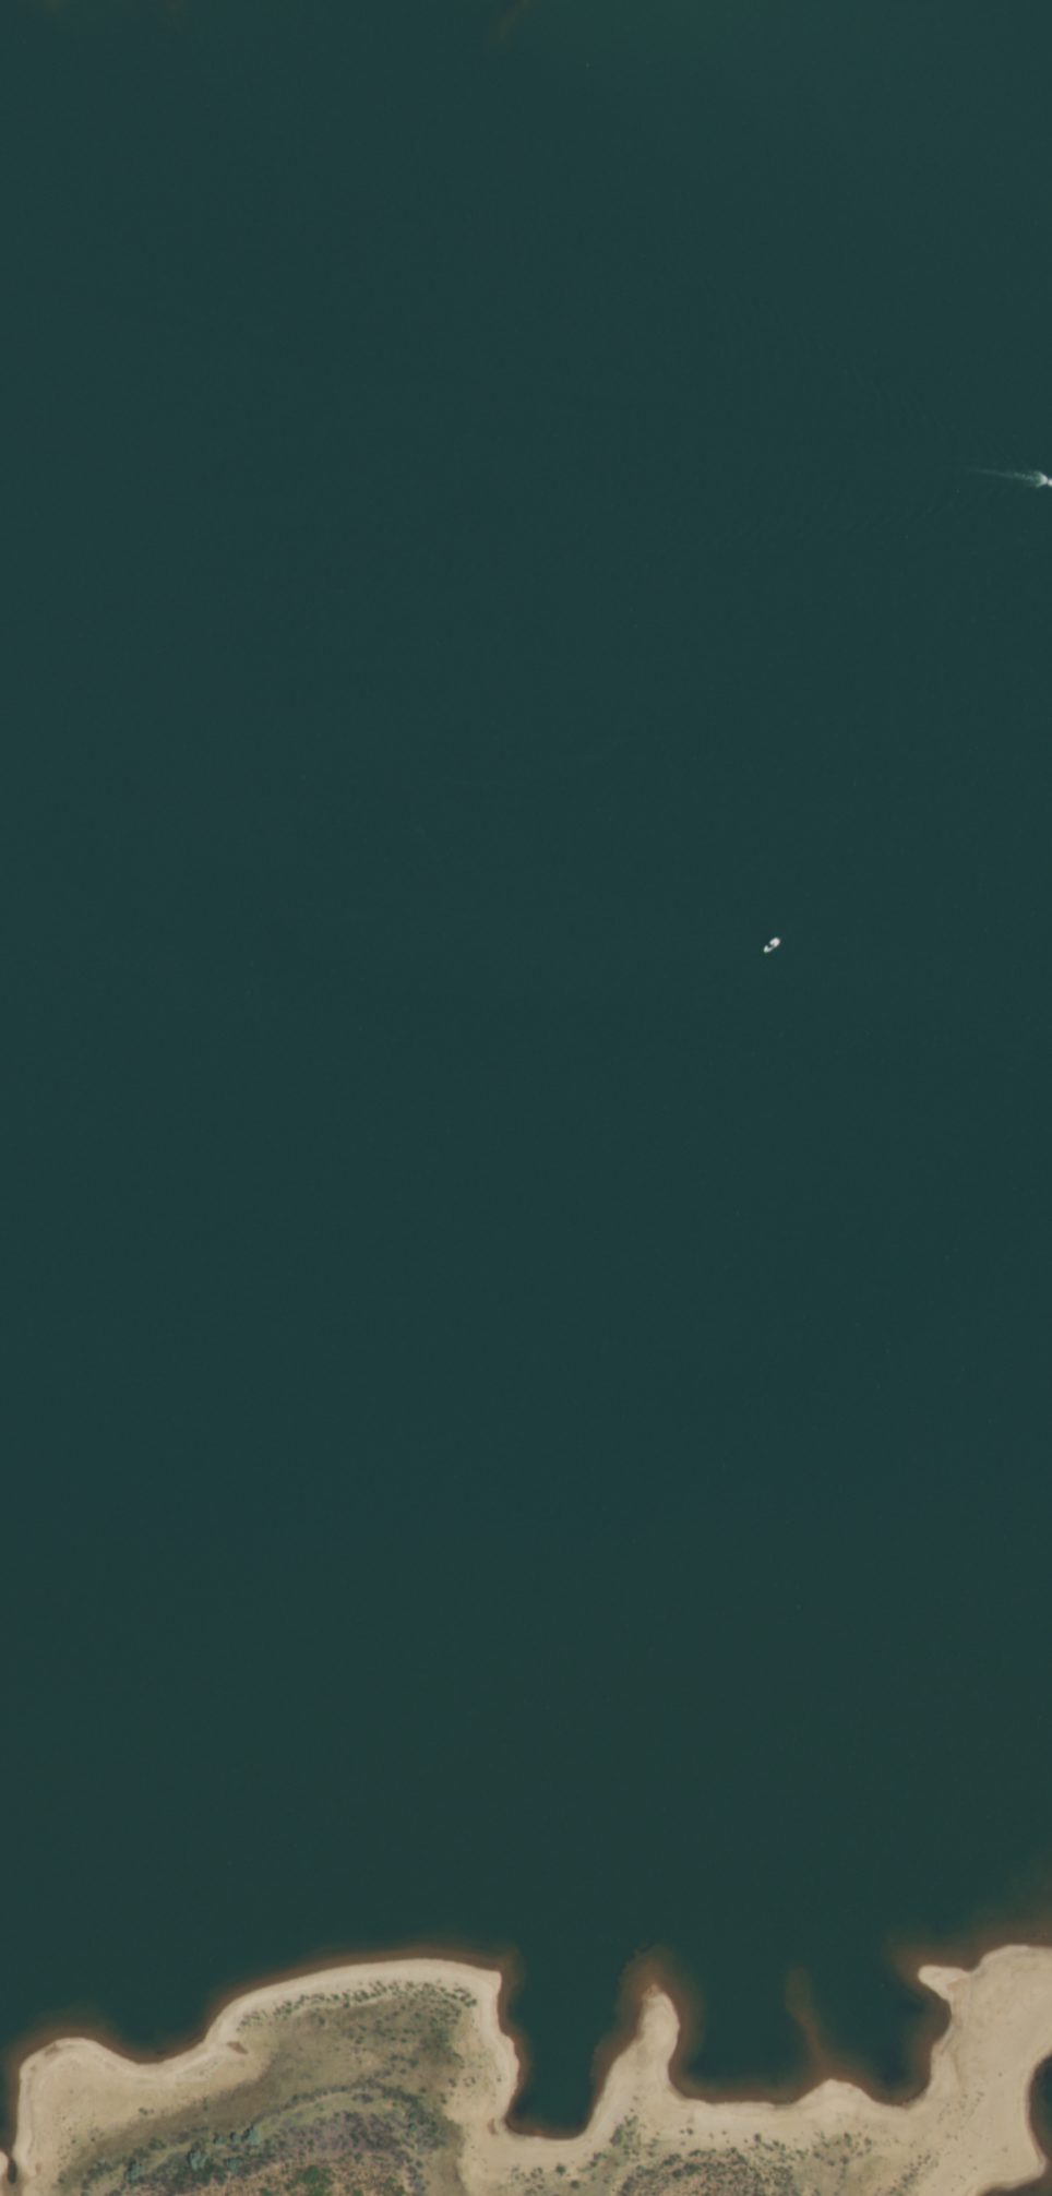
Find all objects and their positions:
river: (525, 453)

